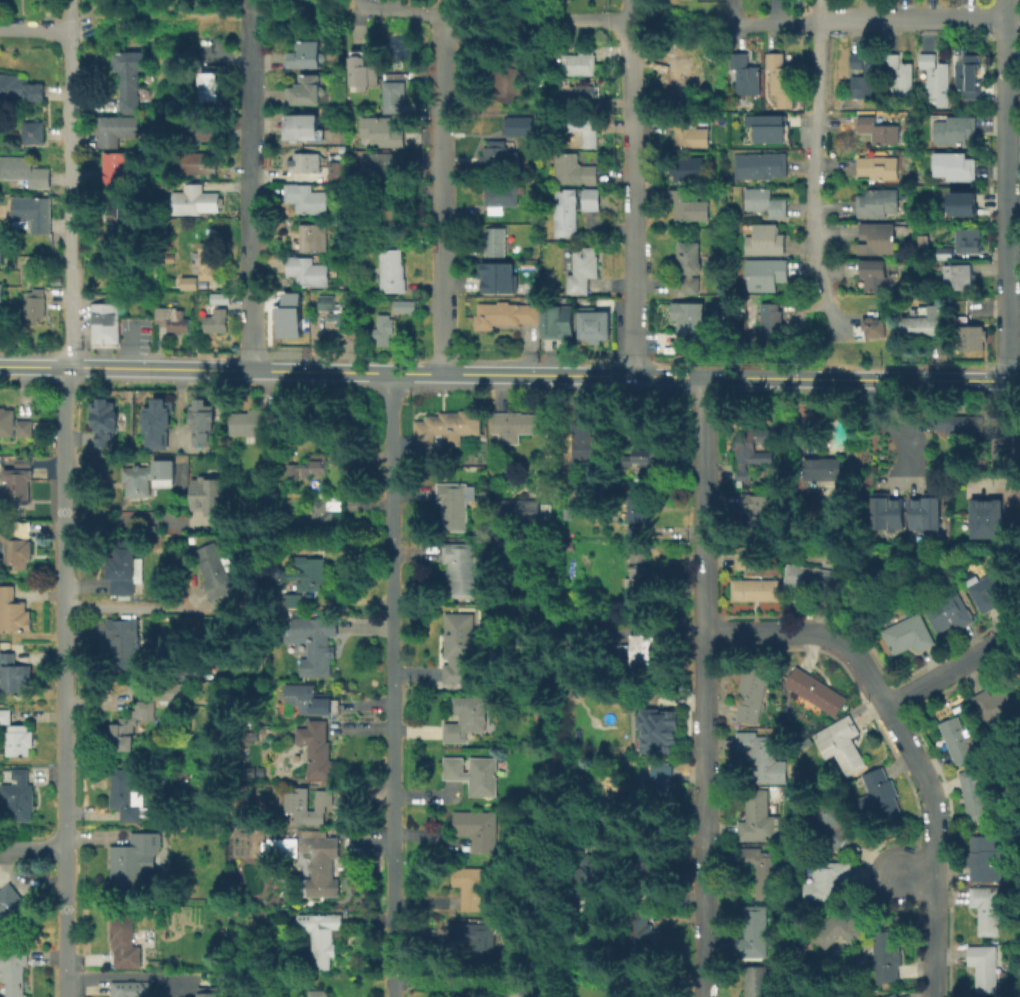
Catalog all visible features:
road: (404, 12)
road: (70, 14)
road: (680, 18)
road: (217, 19)
road: (575, 19)
road: (867, 19)
road: (1013, 21)
road: (481, 24)
road: (35, 27)
building: (305, 55)
building: (584, 61)
building: (366, 71)
building: (745, 73)
building: (681, 74)
building: (780, 74)
building: (898, 74)
building: (967, 76)
building: (132, 77)
building: (862, 78)
building: (935, 78)
building: (214, 83)
building: (20, 89)
building: (307, 91)
building: (579, 93)
building: (398, 96)
building: (517, 125)
building: (304, 128)
building: (767, 128)
building: (117, 130)
building: (197, 130)
building: (879, 131)
building: (954, 131)
building: (384, 133)
building: (590, 133)
building: (689, 133)
building: (34, 134)
building: (347, 139)
building: (498, 155)
road: (815, 161)
building: (308, 163)
building: (197, 164)
building: (765, 166)
building: (955, 166)
building: (385, 167)
building: (879, 167)
building: (118, 168)
building: (573, 169)
building: (689, 169)
building: (339, 171)
building: (24, 172)
road: (252, 185)
road: (444, 186)
road: (631, 188)
road: (1007, 189)
building: (501, 196)
road: (71, 197)
building: (310, 199)
building: (592, 199)
building: (201, 202)
building: (877, 202)
building: (763, 203)
building: (689, 206)
building: (958, 206)
building: (35, 212)
building: (395, 212)
building: (567, 212)
building: (123, 215)
building: (315, 238)
building: (969, 240)
building: (496, 241)
building: (765, 241)
building: (876, 241)
building: (3, 246)
building: (932, 249)
building: (173, 258)
building: (210, 260)
building: (689, 265)
building: (583, 270)
building: (393, 271)
building: (309, 272)
building: (765, 275)
building: (875, 275)
building: (961, 277)
building: (494, 279)
building: (190, 284)
building: (358, 285)
building: (1, 295)
building: (221, 298)
building: (36, 306)
building: (406, 306)
building: (338, 313)
building: (508, 313)
building: (298, 318)
building: (175, 319)
building: (558, 319)
building: (219, 321)
building: (692, 321)
building: (772, 321)
building: (103, 322)
building: (595, 322)
building: (927, 324)
building: (876, 325)
building: (385, 328)
building: (970, 338)
road: (825, 348)
road: (509, 374)
road: (542, 386)
building: (156, 419)
building: (103, 421)
building: (201, 421)
road: (888, 422)
building: (14, 425)
building: (255, 425)
building: (517, 425)
building: (963, 426)
building: (447, 430)
building: (588, 442)
building: (750, 447)
building: (647, 460)
building: (310, 467)
building: (825, 468)
building: (148, 477)
building: (18, 481)
building: (207, 496)
building: (456, 504)
building: (523, 509)
building: (640, 510)
building: (762, 511)
building: (890, 513)
building: (927, 513)
building: (568, 514)
building: (322, 515)
building: (990, 518)
road: (124, 523)
building: (637, 532)
building: (176, 540)
building: (193, 541)
building: (17, 544)
building: (1, 551)
building: (748, 558)
building: (463, 568)
building: (216, 569)
building: (125, 570)
building: (311, 571)
building: (638, 573)
building: (867, 577)
building: (814, 579)
building: (995, 587)
building: (757, 590)
building: (295, 600)
road: (134, 606)
building: (13, 611)
building: (927, 625)
road: (812, 632)
building: (119, 642)
building: (317, 643)
building: (457, 648)
building: (640, 650)
building: (622, 651)
road: (953, 670)
building: (191, 672)
building: (15, 675)
road: (64, 681)
road: (390, 685)
road: (702, 686)
building: (816, 691)
building: (170, 692)
building: (753, 693)
building: (312, 700)
building: (200, 703)
building: (999, 704)
building: (5, 717)
building: (466, 718)
building: (129, 725)
building: (658, 730)
building: (248, 736)
building: (19, 741)
building: (802, 741)
building: (960, 741)
building: (842, 746)
building: (319, 751)
building: (763, 757)
building: (250, 771)
building: (261, 771)
building: (473, 774)
building: (655, 786)
building: (18, 793)
building: (976, 793)
building: (125, 795)
building: (881, 796)
building: (307, 805)
building: (759, 818)
building: (839, 825)
building: (477, 829)
road: (33, 845)
road: (936, 846)
building: (982, 859)
building: (132, 862)
building: (326, 868)
building: (650, 869)
building: (764, 870)
building: (595, 875)
road: (917, 875)
building: (832, 879)
building: (476, 884)
building: (11, 908)
building: (988, 909)
building: (844, 927)
building: (755, 933)
building: (647, 935)
building: (320, 936)
building: (476, 937)
building: (125, 942)
building: (890, 955)
building: (986, 967)
building: (15, 970)
road: (124, 972)
building: (757, 981)
building: (127, 984)
building: (206, 992)
building: (318, 993)
building: (534, 993)
building: (888, 994)
building: (900, 995)
building: (450, 996)

